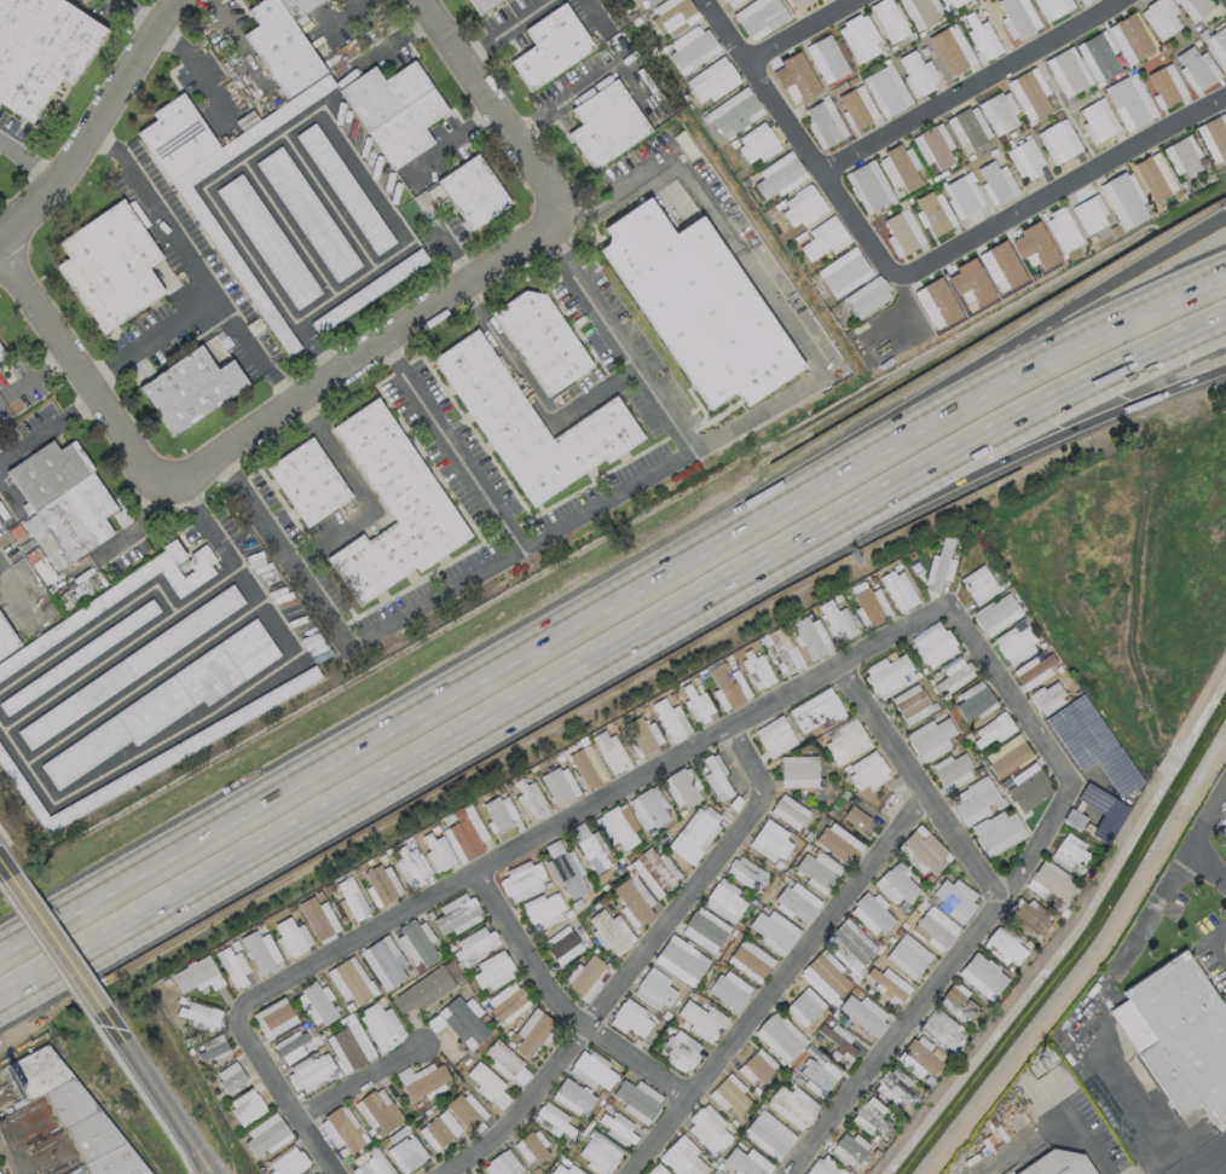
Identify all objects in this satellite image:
building: (821, 0)
building: (1089, 0)
building: (728, 1)
road: (857, 1)
building: (1083, 1)
building: (643, 2)
building: (799, 2)
building: (948, 2)
building: (958, 2)
building: (480, 5)
building: (1054, 7)
building: (1199, 7)
road: (531, 10)
building: (925, 12)
road: (592, 13)
road: (135, 15)
road: (346, 15)
building: (672, 16)
building: (1163, 17)
building: (764, 18)
building: (1017, 18)
building: (890, 21)
road: (806, 33)
building: (912, 36)
building: (861, 37)
building: (979, 37)
building: (1132, 37)
building: (1221, 40)
road: (485, 41)
road: (386, 44)
road: (237, 45)
building: (550, 46)
building: (692, 48)
building: (41, 50)
building: (925, 52)
building: (950, 54)
building: (1101, 57)
building: (831, 58)
road: (605, 66)
road: (196, 68)
building: (1197, 69)
building: (1069, 71)
building: (916, 74)
building: (711, 79)
building: (793, 79)
building: (1162, 83)
building: (828, 85)
road: (968, 85)
building: (886, 92)
building: (1033, 96)
building: (1127, 103)
building: (855, 109)
building: (394, 110)
road: (485, 111)
building: (733, 112)
building: (1002, 112)
road: (531, 118)
building: (1097, 122)
building: (606, 123)
road: (94, 126)
building: (823, 126)
road: (289, 127)
building: (970, 128)
building: (1216, 137)
building: (177, 138)
road: (446, 143)
building: (757, 143)
building: (1058, 144)
building: (937, 149)
building: (1186, 157)
building: (1024, 160)
road: (28, 161)
building: (903, 168)
road: (686, 173)
building: (780, 175)
building: (1152, 179)
building: (995, 184)
building: (1173, 186)
building: (343, 189)
building: (869, 189)
building: (473, 191)
building: (962, 197)
building: (1127, 199)
building: (803, 206)
building: (307, 214)
building: (933, 214)
building: (1093, 215)
road: (588, 218)
building: (1069, 231)
building: (1115, 231)
building: (902, 235)
building: (823, 243)
road: (1, 245)
road: (1, 247)
building: (109, 266)
road: (914, 271)
road: (192, 274)
building: (845, 274)
building: (872, 301)
building: (698, 305)
building: (973, 310)
building: (958, 317)
building: (540, 339)
road: (250, 352)
building: (1, 353)
road: (362, 355)
road: (80, 370)
road: (821, 374)
road: (959, 375)
road: (35, 378)
building: (190, 388)
road: (533, 395)
building: (530, 423)
road: (48, 428)
road: (450, 444)
road: (966, 453)
road: (966, 476)
building: (307, 481)
road: (8, 493)
road: (358, 493)
building: (64, 497)
building: (392, 505)
road: (144, 532)
road: (532, 537)
building: (939, 565)
road: (632, 574)
building: (978, 584)
building: (898, 590)
building: (871, 606)
building: (996, 614)
building: (837, 620)
building: (809, 637)
building: (6, 641)
building: (1014, 641)
building: (933, 646)
building: (780, 650)
building: (757, 670)
building: (1033, 670)
building: (889, 675)
building: (953, 676)
road: (806, 682)
building: (728, 686)
building: (1047, 698)
building: (973, 702)
building: (162, 704)
building: (696, 704)
building: (912, 704)
building: (815, 711)
building: (671, 719)
building: (993, 729)
building: (1080, 731)
building: (640, 736)
building: (775, 736)
building: (930, 739)
building: (845, 740)
building: (611, 753)
building: (1007, 756)
building: (586, 767)
road: (108, 769)
building: (867, 770)
building: (952, 770)
building: (798, 771)
road: (399, 775)
building: (716, 777)
road: (918, 782)
building: (559, 785)
building: (681, 787)
building: (1025, 787)
building: (530, 799)
building: (972, 800)
building: (648, 808)
building: (788, 811)
building: (499, 812)
building: (857, 816)
building: (618, 826)
building: (997, 832)
building: (464, 833)
building: (695, 833)
building: (1222, 837)
building: (769, 842)
building: (838, 843)
building: (589, 848)
building: (921, 851)
building: (1069, 854)
building: (438, 855)
building: (410, 866)
road: (1209, 868)
road: (4, 869)
building: (563, 869)
building: (817, 871)
building: (654, 872)
building: (746, 872)
road: (1176, 879)
building: (522, 881)
building: (1049, 883)
building: (381, 884)
building: (896, 884)
building: (351, 898)
building: (953, 898)
building: (634, 901)
building: (724, 902)
building: (796, 902)
building: (542, 910)
building: (456, 914)
building: (871, 914)
building: (318, 918)
building: (1028, 919)
road: (40, 924)
building: (933, 929)
building: (608, 930)
building: (704, 930)
building: (774, 931)
building: (291, 937)
road: (12, 939)
building: (474, 942)
road: (52, 943)
building: (416, 943)
building: (561, 944)
building: (850, 945)
building: (1005, 947)
road: (1222, 949)
building: (260, 952)
building: (907, 956)
road: (63, 960)
building: (679, 960)
building: (750, 960)
building: (383, 962)
road: (635, 965)
building: (233, 967)
building: (492, 971)
building: (196, 975)
building: (826, 975)
building: (982, 976)
building: (584, 978)
building: (349, 981)
road: (22, 983)
road: (777, 983)
building: (886, 984)
building: (427, 988)
building: (653, 989)
building: (729, 990)
building: (507, 1002)
building: (314, 1004)
building: (959, 1004)
road: (559, 1005)
building: (804, 1007)
building: (863, 1014)
building: (199, 1016)
building: (273, 1018)
building: (631, 1019)
building: (701, 1020)
building: (381, 1026)
building: (943, 1030)
building: (532, 1033)
building: (780, 1037)
building: (1182, 1042)
building: (290, 1046)
building: (348, 1046)
building: (212, 1047)
building: (679, 1049)
building: (919, 1058)
building: (505, 1063)
building: (757, 1066)
building: (591, 1070)
building: (312, 1072)
building: (817, 1074)
building: (230, 1077)
building: (421, 1080)
road: (358, 1083)
building: (487, 1085)
building: (895, 1087)
road: (155, 1092)
building: (728, 1094)
building: (572, 1097)
building: (637, 1099)
building: (245, 1106)
building: (792, 1106)
building: (465, 1110)
building: (378, 1111)
building: (872, 1117)
building: (549, 1118)
road: (1053, 1120)
building: (342, 1128)
building: (620, 1128)
building: (707, 1129)
building: (438, 1130)
building: (266, 1134)
building: (768, 1135)
building: (530, 1147)
building: (849, 1149)
building: (406, 1153)
building: (600, 1153)
building: (682, 1157)
building: (287, 1161)
road: (1208, 1161)
building: (746, 1162)
building: (1068, 1163)
building: (502, 1164)
building: (825, 1167)
building: (563, 1170)
building: (655, 1170)
building: (307, 1173)
building: (476, 1173)
building: (721, 1173)

